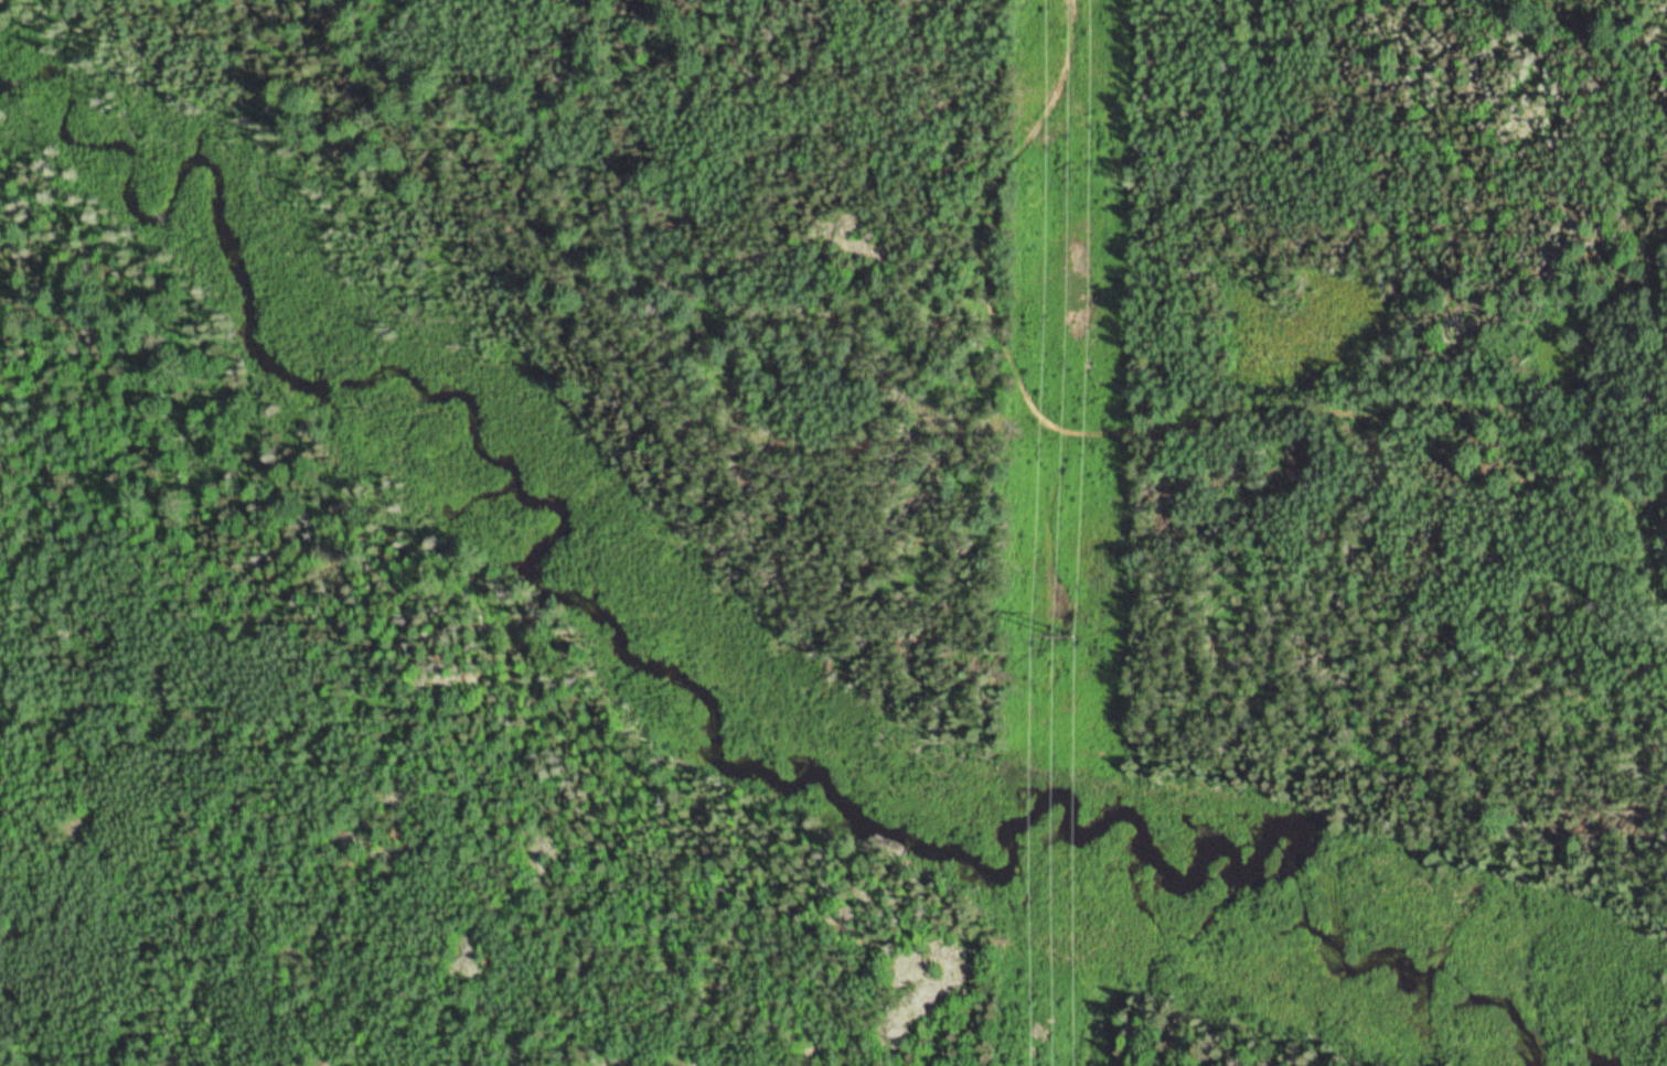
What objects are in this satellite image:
road: (1158, 421)
power tower: (1069, 635)

